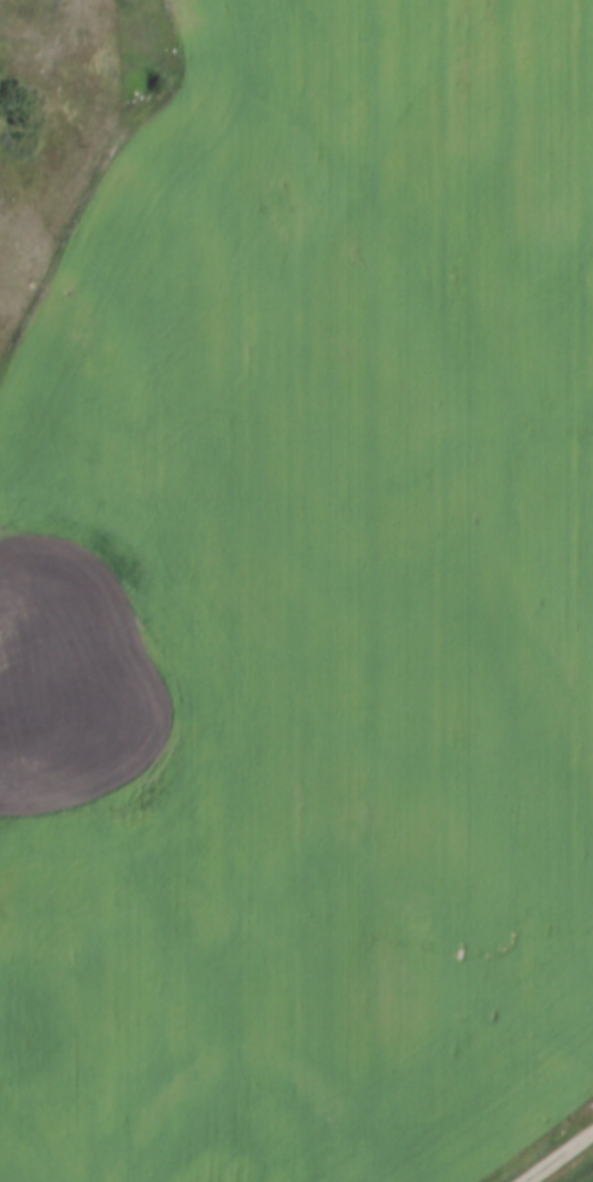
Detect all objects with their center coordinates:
road: (547, 1149)

